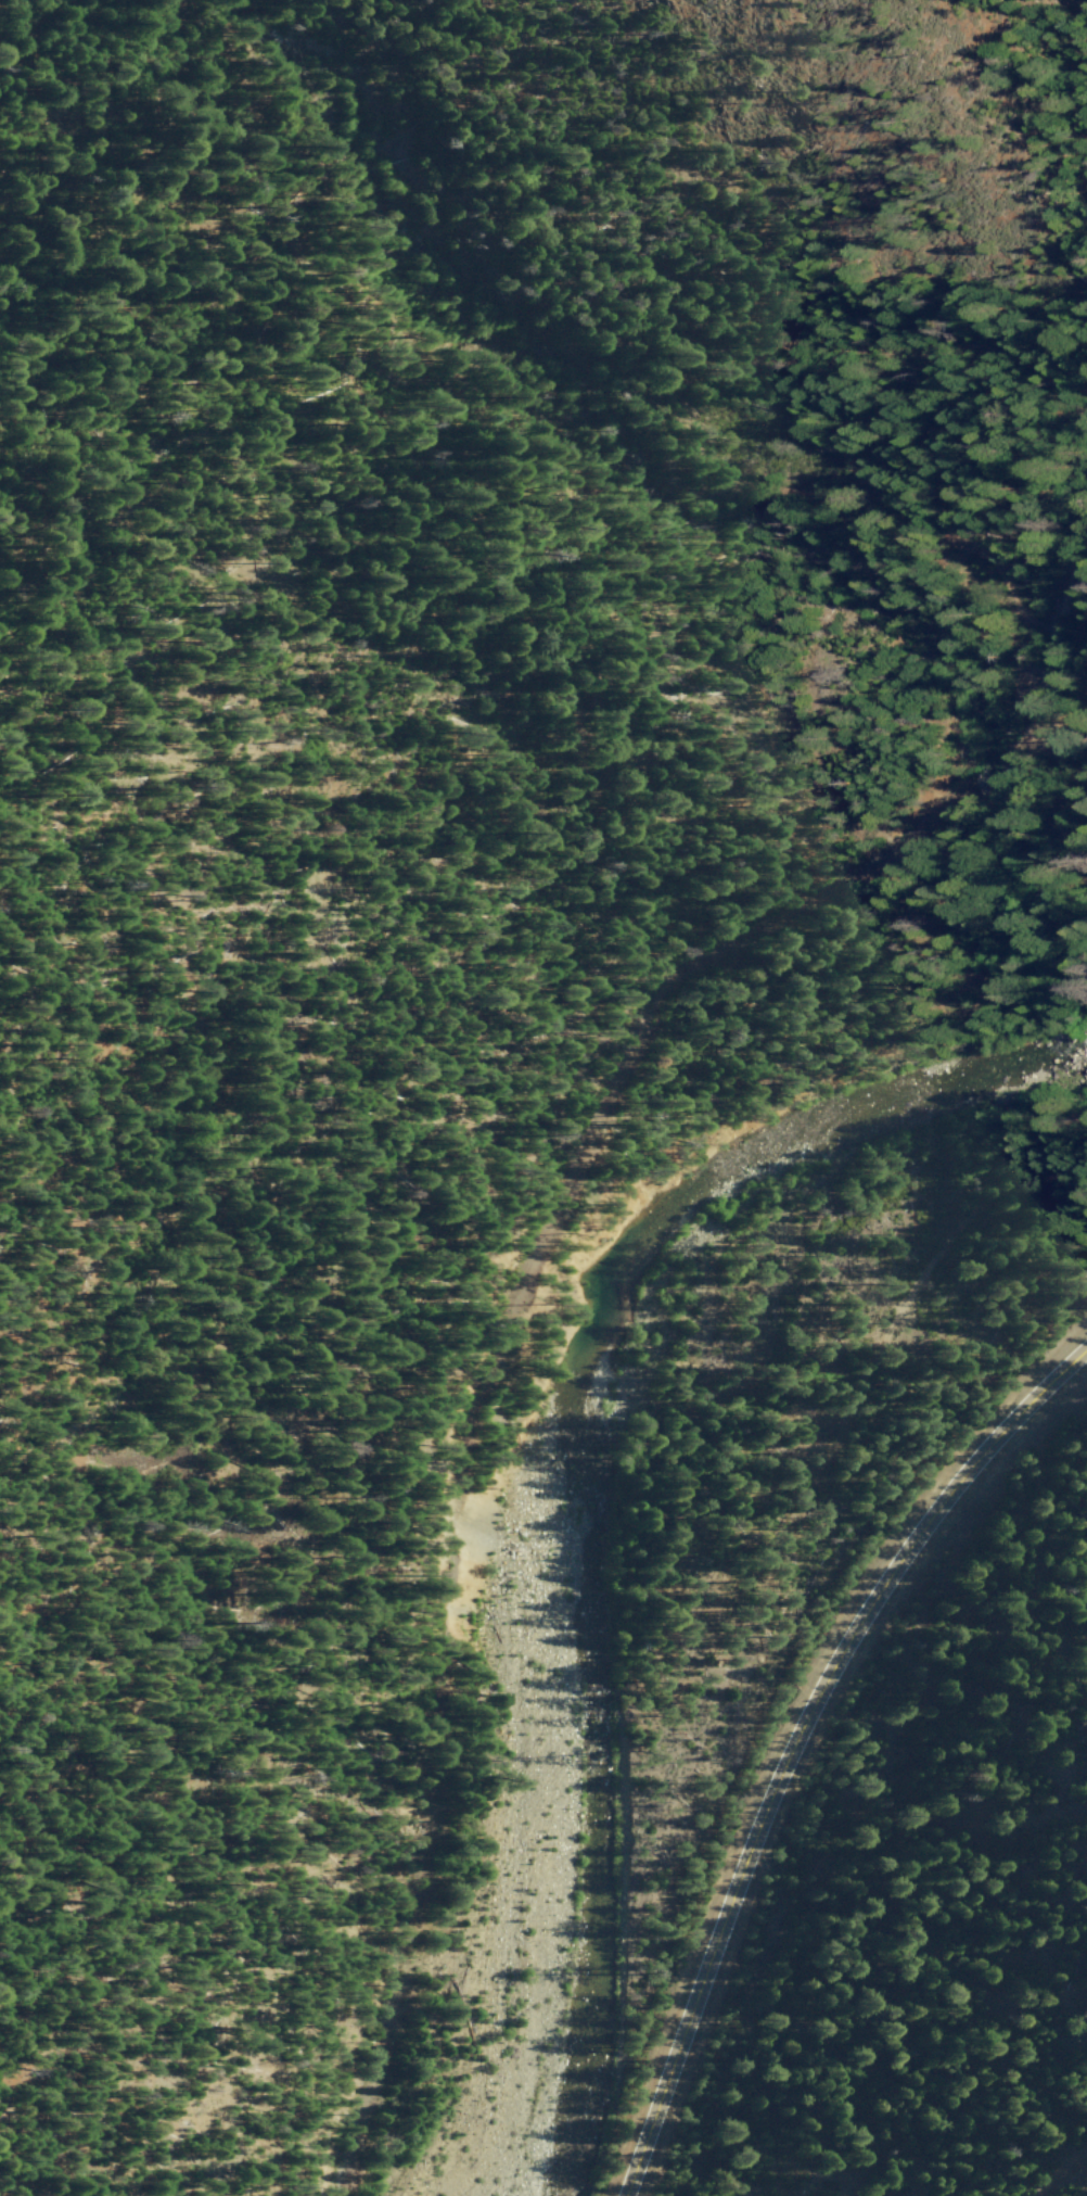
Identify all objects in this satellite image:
road: (622, 558)
road: (1050, 637)
parking lot: (1043, 746)
road: (1082, 794)
road: (476, 1393)
river: (581, 1512)
road: (823, 1806)

